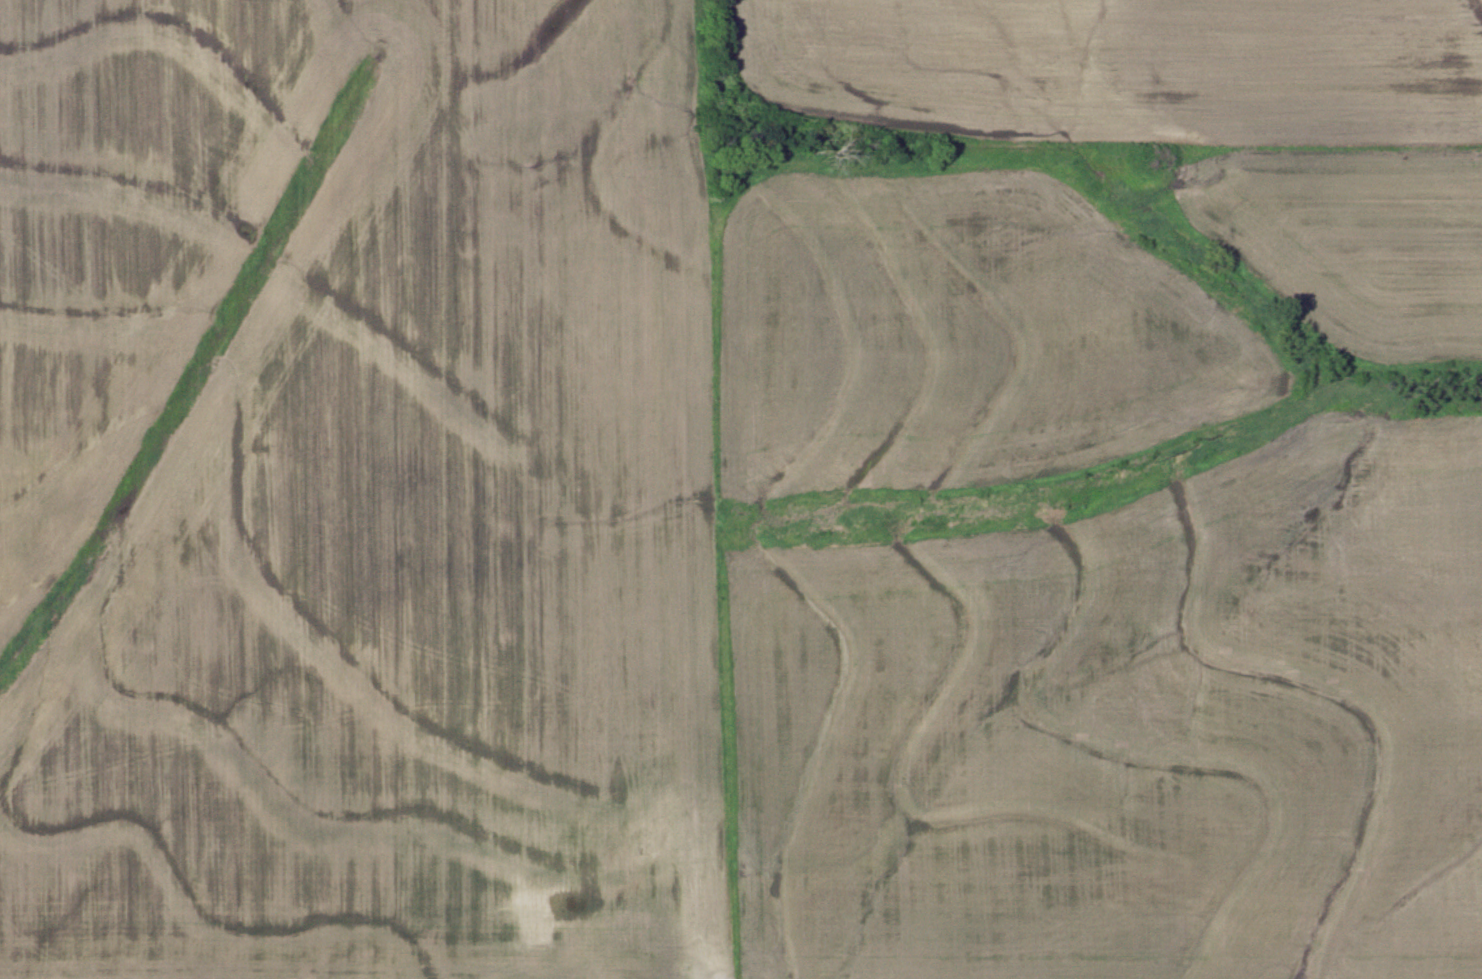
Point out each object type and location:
building: (537, 931)

